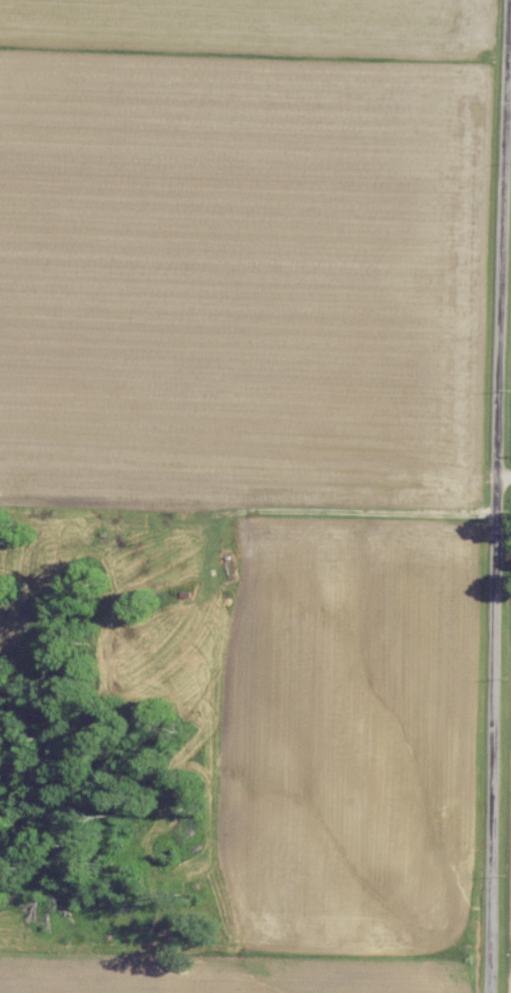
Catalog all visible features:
road: (503, 735)

